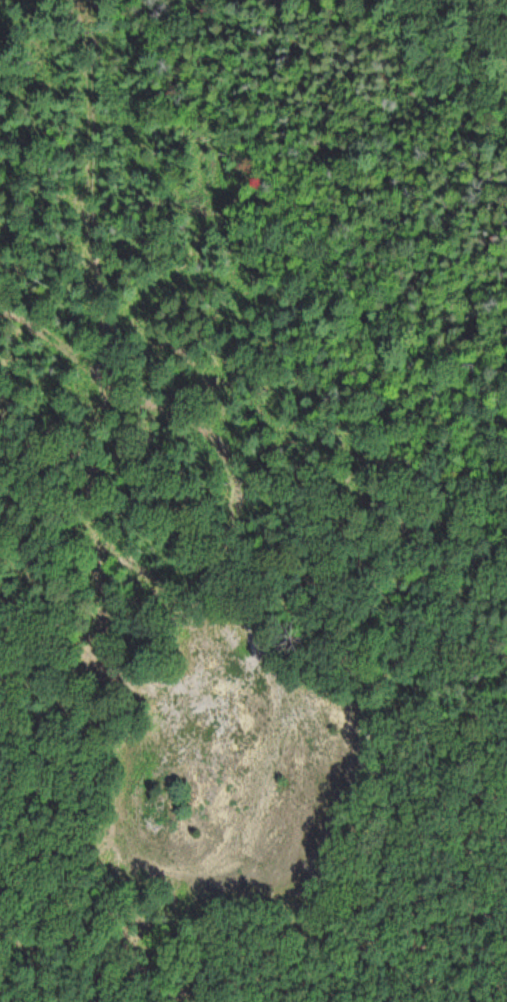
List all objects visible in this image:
road: (502, 4)
road: (142, 917)

